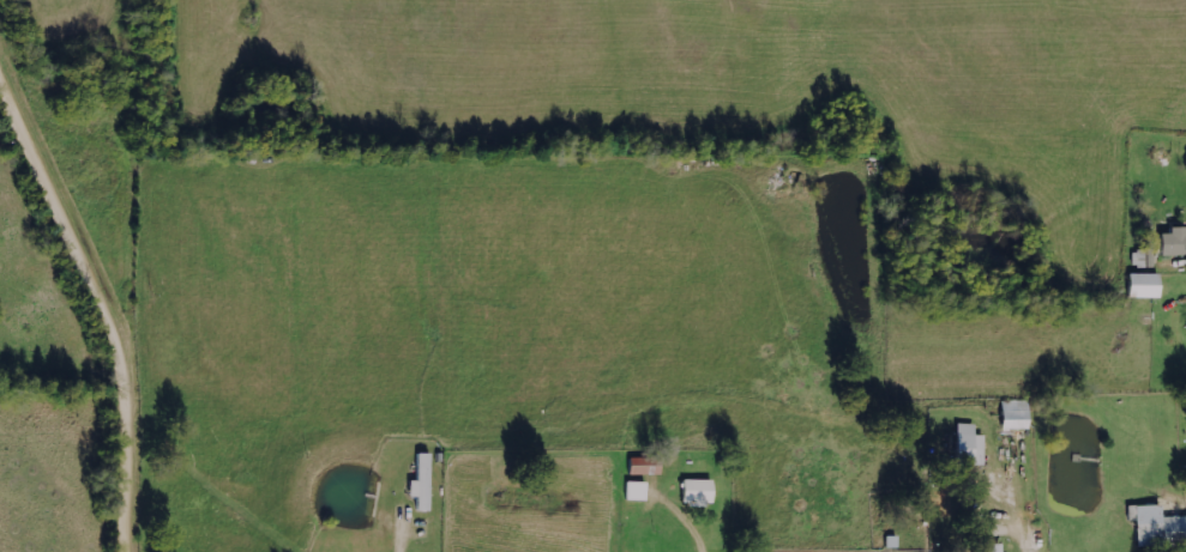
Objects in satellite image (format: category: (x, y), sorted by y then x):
building: (1173, 242)
building: (1143, 257)
road: (1058, 275)
building: (1143, 285)
road: (107, 293)
building: (1015, 414)
building: (969, 445)
building: (643, 466)
building: (421, 483)
building: (636, 491)
building: (697, 492)
building: (1158, 528)
building: (994, 547)

